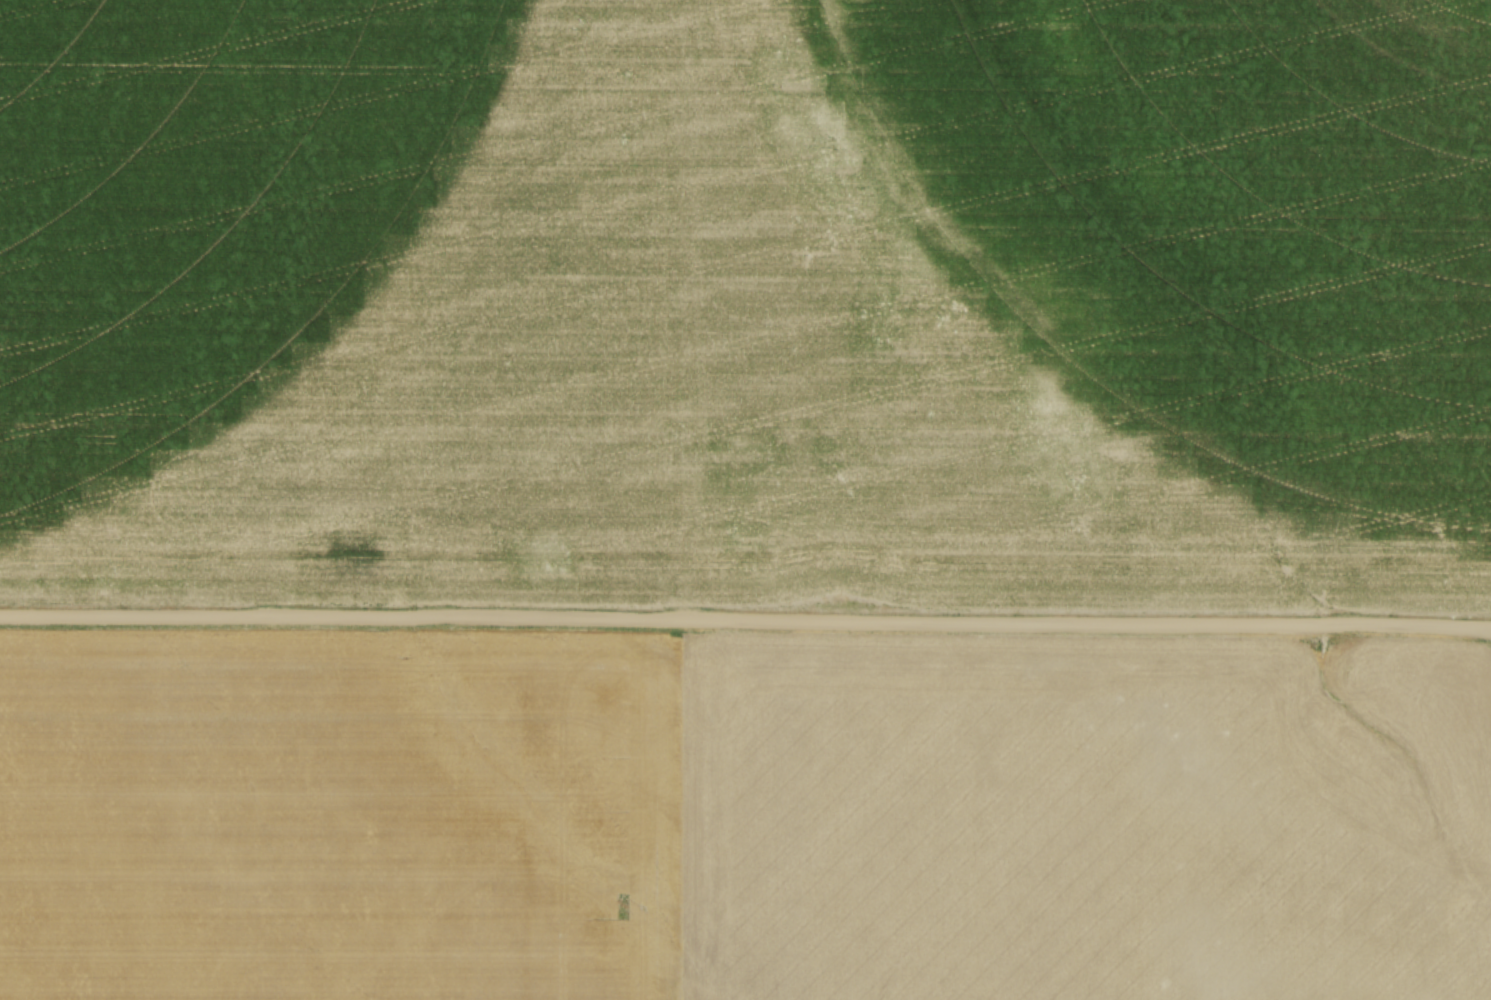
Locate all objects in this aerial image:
crop: (747, 302)
road: (745, 622)
crop: (739, 819)

